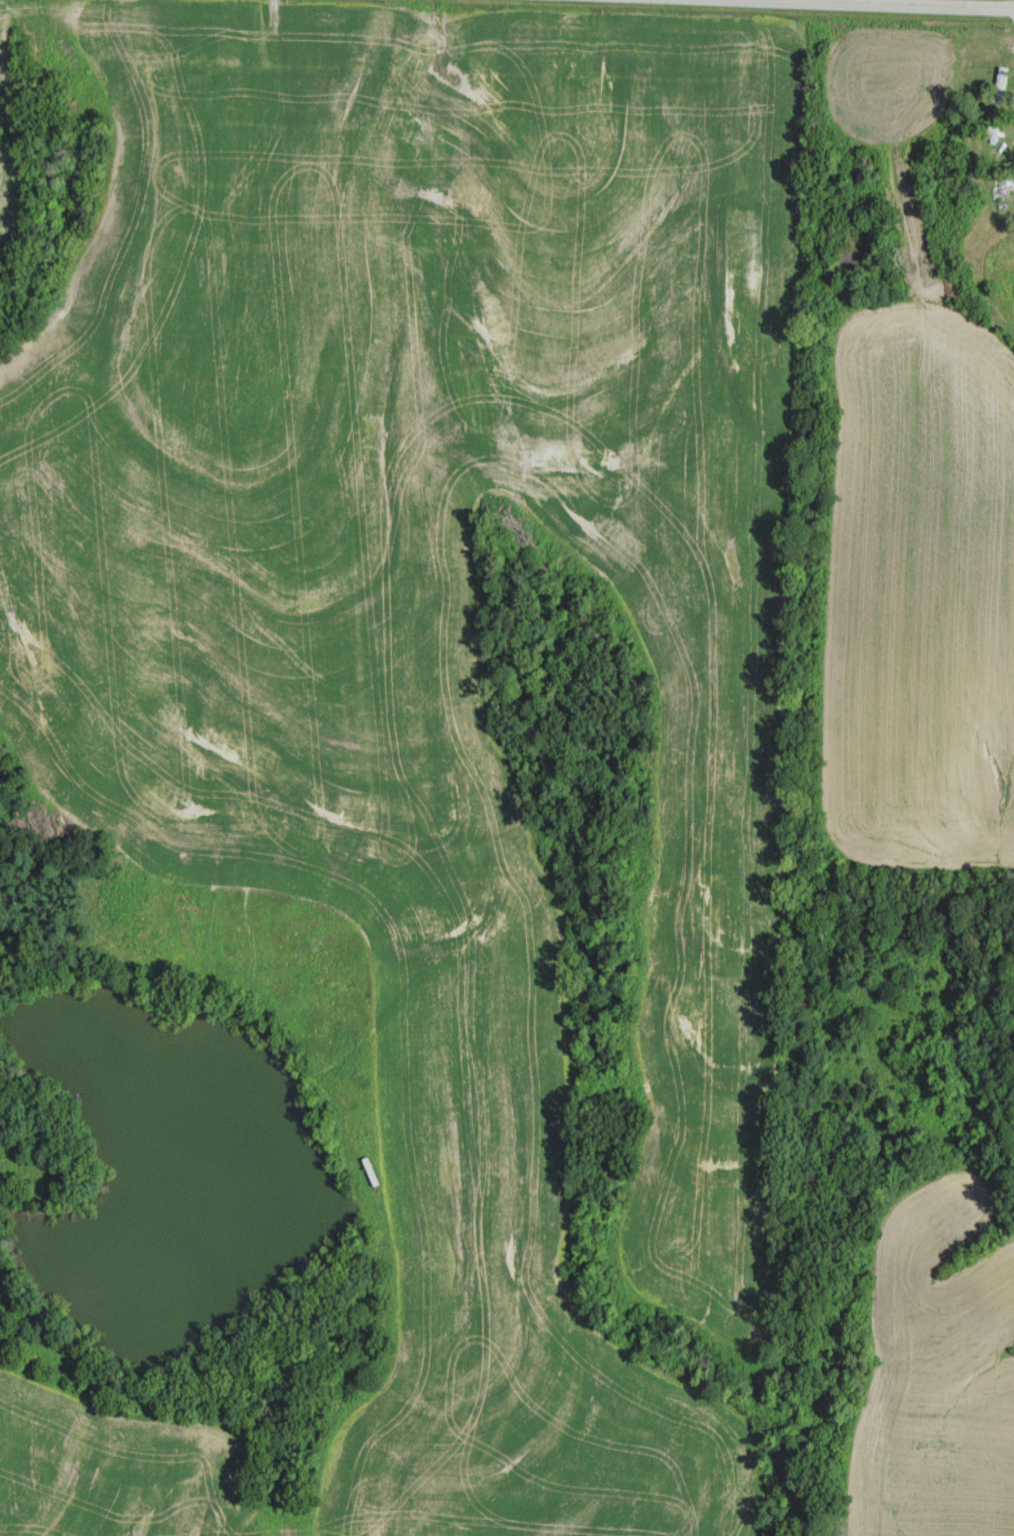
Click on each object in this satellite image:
road: (924, 2)
building: (999, 142)

